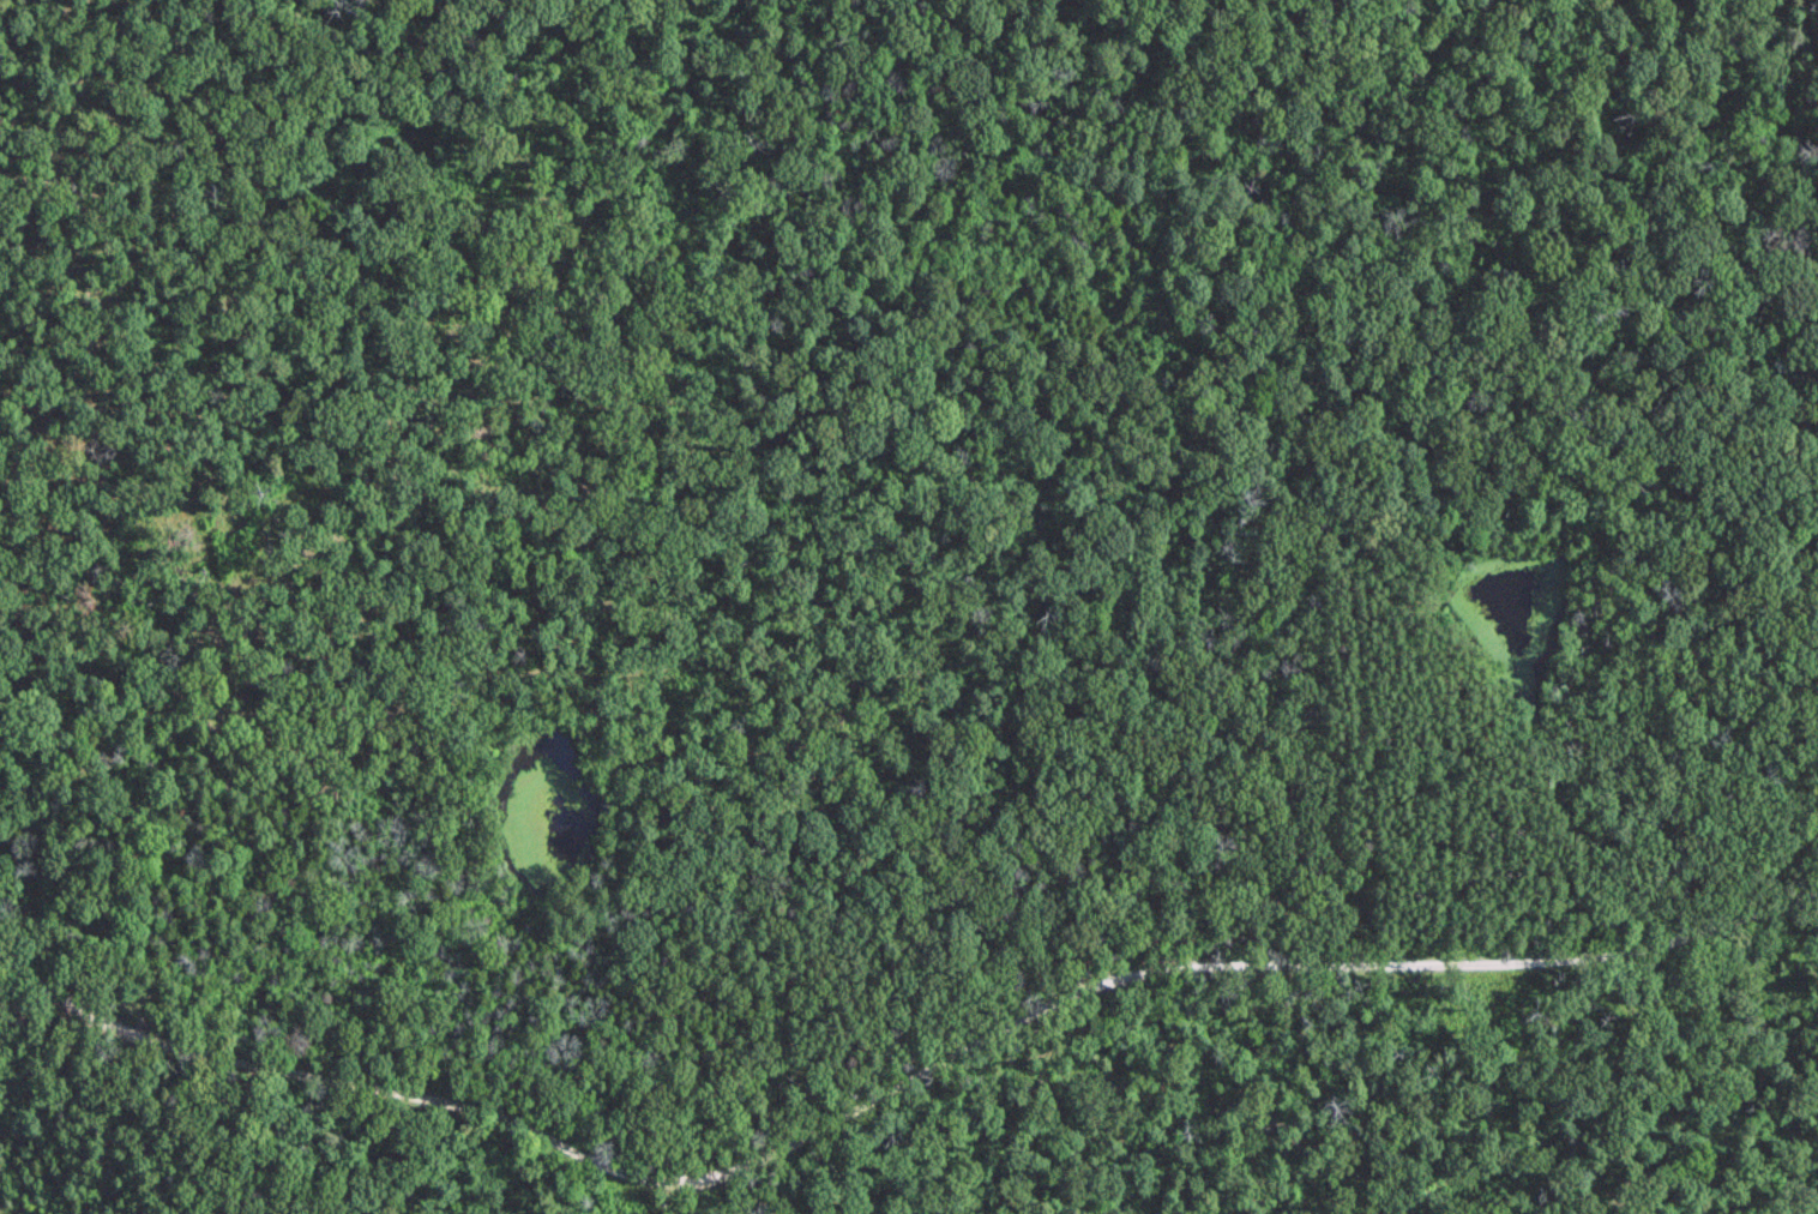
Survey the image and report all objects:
road: (899, 1099)

